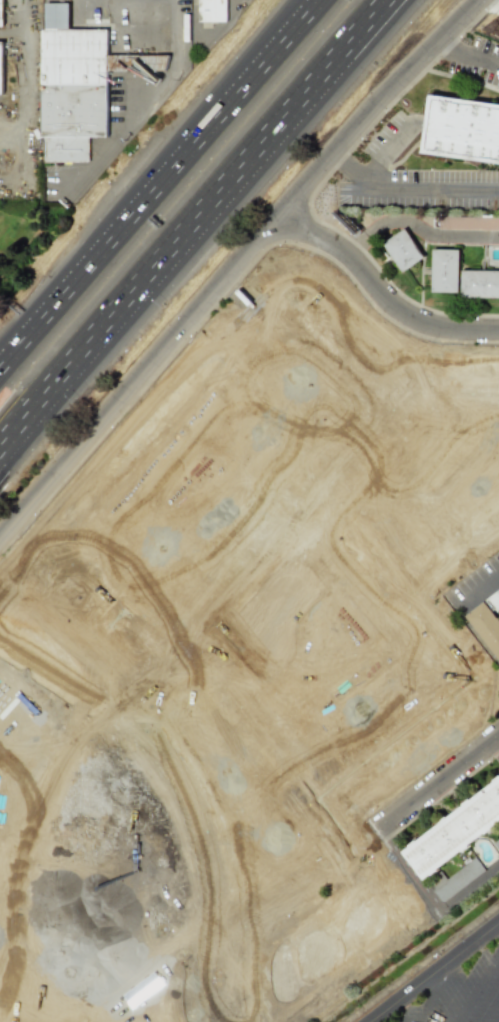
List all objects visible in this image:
building: (212, 11)
building: (1, 13)
road: (175, 31)
road: (447, 39)
road: (477, 53)
building: (1, 68)
building: (79, 82)
road: (16, 89)
building: (462, 128)
road: (201, 139)
road: (385, 153)
road: (337, 162)
road: (417, 193)
building: (468, 222)
road: (191, 225)
road: (445, 235)
building: (402, 250)
road: (235, 262)
building: (444, 270)
building: (479, 283)
road: (378, 294)
road: (43, 316)
road: (43, 328)
road: (205, 365)
road: (399, 400)
road: (416, 480)
road: (401, 582)
building: (494, 601)
road: (457, 609)
road: (115, 612)
building: (485, 626)
road: (170, 660)
road: (54, 674)
road: (130, 702)
road: (435, 706)
road: (264, 736)
road: (497, 744)
road: (199, 814)
building: (455, 831)
road: (374, 834)
road: (401, 876)
building: (445, 888)
road: (213, 935)
road: (395, 943)
road: (435, 973)
road: (234, 987)
road: (477, 988)
road: (434, 990)
parking lot: (463, 994)
road: (497, 1019)

